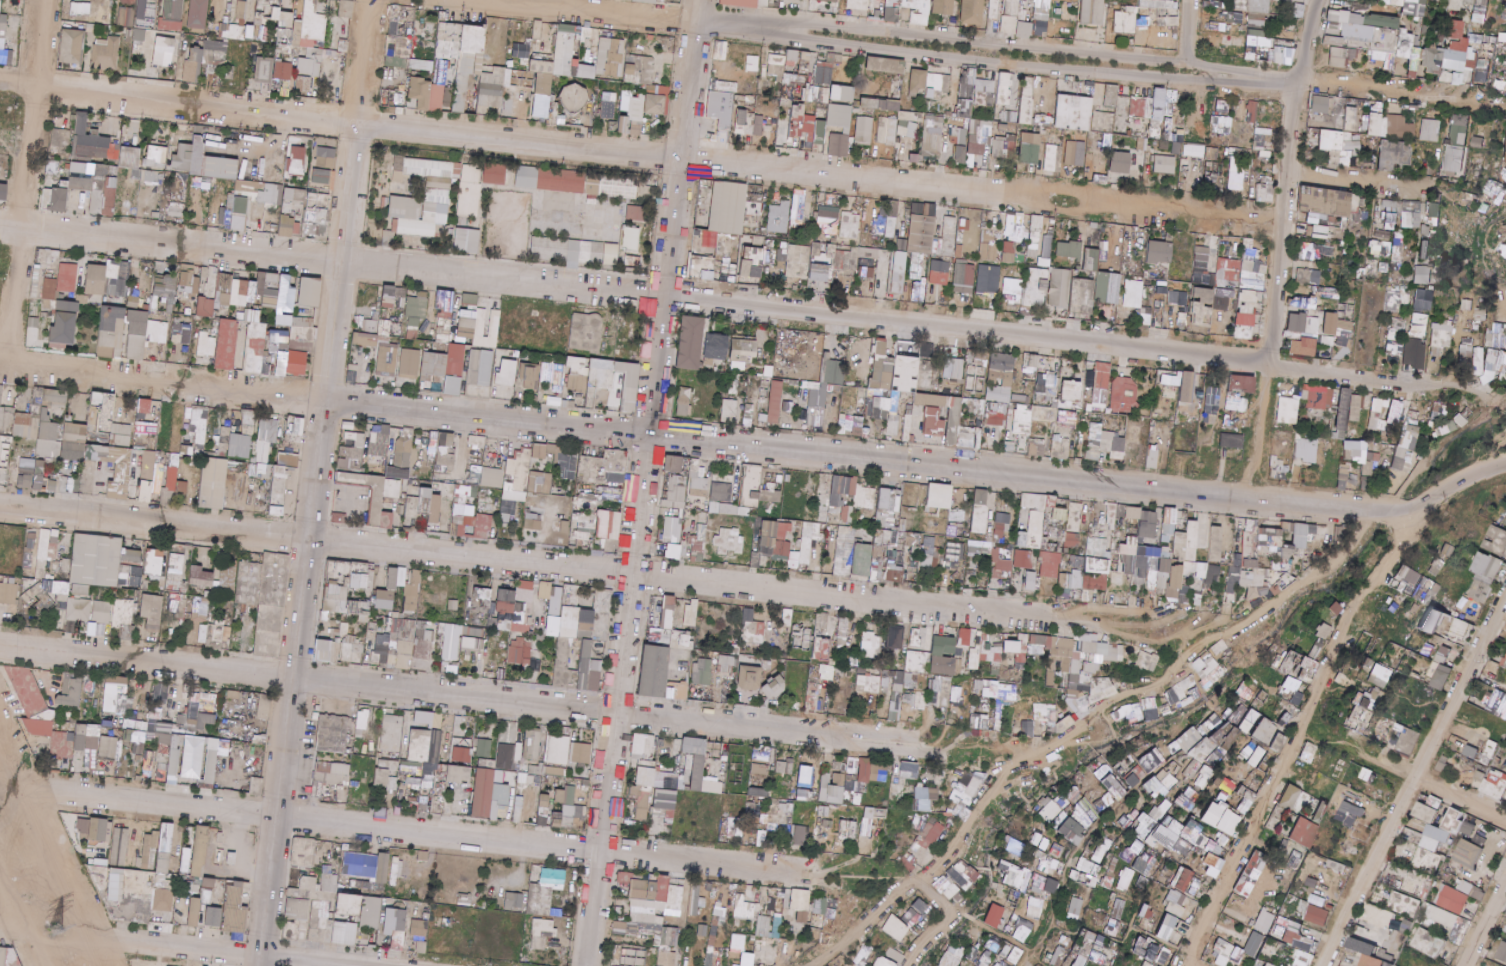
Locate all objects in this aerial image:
building: (831, 0)
building: (1356, 0)
building: (0, 1)
building: (128, 1)
building: (644, 1)
building: (1027, 1)
building: (738, 3)
building: (763, 3)
building: (0, 4)
building: (1152, 4)
building: (858, 5)
building: (310, 6)
building: (943, 7)
building: (1414, 7)
building: (346, 9)
building: (993, 9)
building: (83, 10)
building: (146, 10)
building: (173, 10)
building: (1481, 10)
building: (891, 11)
building: (1503, 11)
building: (972, 12)
building: (1093, 12)
building: (1257, 12)
road: (651, 13)
building: (198, 15)
building: (126, 17)
building: (1234, 17)
building: (918, 19)
building: (1126, 21)
building: (1144, 21)
building: (1381, 21)
building: (281, 22)
building: (238, 25)
building: (1350, 25)
building: (1220, 27)
building: (1455, 29)
building: (537, 30)
road: (1190, 30)
building: (5, 31)
building: (139, 35)
building: (1502, 37)
building: (1333, 41)
building: (1254, 42)
building: (72, 47)
building: (164, 50)
building: (521, 50)
building: (720, 50)
building: (106, 52)
building: (569, 53)
building: (1400, 53)
building: (196, 55)
building: (1282, 56)
building: (217, 57)
building: (610, 57)
building: (1340, 58)
building: (1432, 60)
building: (1454, 60)
building: (1474, 60)
building: (468, 61)
building: (311, 63)
building: (752, 63)
building: (776, 64)
building: (799, 64)
building: (1493, 64)
building: (886, 65)
building: (639, 69)
building: (264, 70)
building: (824, 78)
building: (917, 82)
building: (940, 82)
building: (303, 83)
building: (968, 83)
building: (439, 85)
building: (542, 87)
building: (727, 87)
building: (492, 88)
building: (1004, 88)
building: (658, 90)
building: (420, 92)
building: (985, 92)
building: (842, 93)
building: (1111, 96)
building: (574, 97)
building: (1026, 101)
building: (1341, 101)
building: (654, 104)
building: (880, 104)
building: (608, 105)
building: (1320, 105)
building: (1149, 106)
building: (1221, 106)
building: (965, 108)
building: (1073, 112)
building: (1253, 112)
building: (1010, 116)
building: (632, 117)
building: (809, 118)
building: (1350, 118)
building: (795, 121)
building: (833, 122)
building: (1102, 122)
building: (1135, 122)
building: (749, 124)
building: (1221, 124)
building: (1372, 124)
building: (1399, 126)
building: (908, 128)
building: (1002, 128)
building: (711, 130)
building: (1431, 130)
building: (1459, 130)
building: (864, 131)
building: (887, 131)
building: (933, 135)
building: (959, 136)
building: (979, 137)
building: (89, 139)
building: (1331, 140)
building: (1477, 142)
building: (1142, 144)
building: (1177, 144)
building: (838, 145)
building: (1003, 147)
building: (1262, 147)
building: (1029, 148)
building: (1075, 153)
building: (1394, 154)
building: (960, 155)
building: (129, 157)
building: (156, 157)
building: (325, 157)
building: (1051, 158)
building: (201, 161)
building: (295, 161)
building: (1453, 161)
building: (1120, 162)
building: (1165, 165)
building: (1029, 168)
building: (1238, 172)
building: (495, 174)
building: (148, 176)
building: (81, 177)
building: (320, 177)
building: (1100, 179)
road: (26, 180)
building: (549, 180)
building: (202, 182)
building: (1265, 189)
building: (108, 190)
building: (470, 190)
building: (440, 197)
building: (294, 199)
building: (59, 200)
building: (1330, 204)
building: (240, 206)
building: (727, 207)
building: (798, 207)
building: (175, 211)
building: (636, 213)
building: (1410, 217)
building: (778, 218)
building: (828, 220)
building: (850, 225)
building: (963, 225)
building: (286, 226)
building: (922, 228)
building: (390, 232)
building: (1320, 232)
building: (1424, 232)
building: (1034, 236)
building: (950, 238)
building: (631, 239)
building: (754, 239)
road: (1285, 243)
building: (1374, 249)
building: (1385, 249)
building: (1069, 250)
building: (1425, 250)
building: (1308, 251)
building: (1324, 251)
building: (988, 252)
building: (1008, 252)
building: (1160, 253)
building: (1396, 253)
building: (48, 259)
building: (800, 260)
building: (1091, 260)
building: (859, 261)
building: (752, 265)
building: (701, 267)
building: (1202, 267)
building: (1252, 268)
building: (1228, 270)
building: (898, 272)
building: (916, 272)
building: (939, 272)
building: (819, 273)
building: (69, 276)
building: (964, 278)
building: (95, 280)
building: (988, 280)
building: (189, 281)
building: (119, 287)
building: (1059, 288)
building: (1107, 288)
building: (49, 289)
building: (1035, 289)
building: (223, 290)
building: (164, 291)
building: (918, 291)
building: (1013, 291)
building: (266, 292)
building: (309, 292)
building: (388, 297)
building: (470, 300)
building: (133, 301)
building: (417, 305)
building: (205, 307)
building: (647, 307)
building: (444, 316)
building: (480, 323)
building: (367, 324)
building: (466, 324)
building: (64, 326)
building: (384, 327)
building: (413, 328)
building: (302, 330)
building: (32, 332)
building: (111, 332)
building: (181, 333)
building: (142, 335)
building: (279, 339)
building: (365, 340)
building: (205, 343)
building: (254, 343)
building: (226, 344)
building: (298, 364)
building: (281, 368)
building: (1, 392)
road: (644, 482)
parking lot: (350, 504)
power tower: (51, 912)
road: (12, 937)

